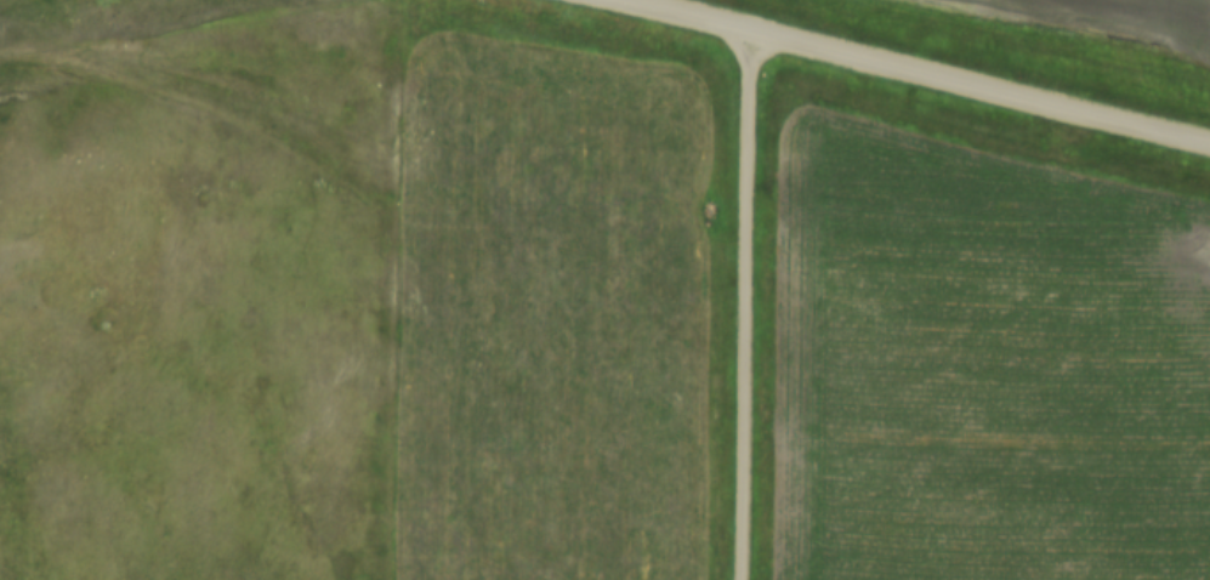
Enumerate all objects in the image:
road: (908, 78)
road: (748, 308)

